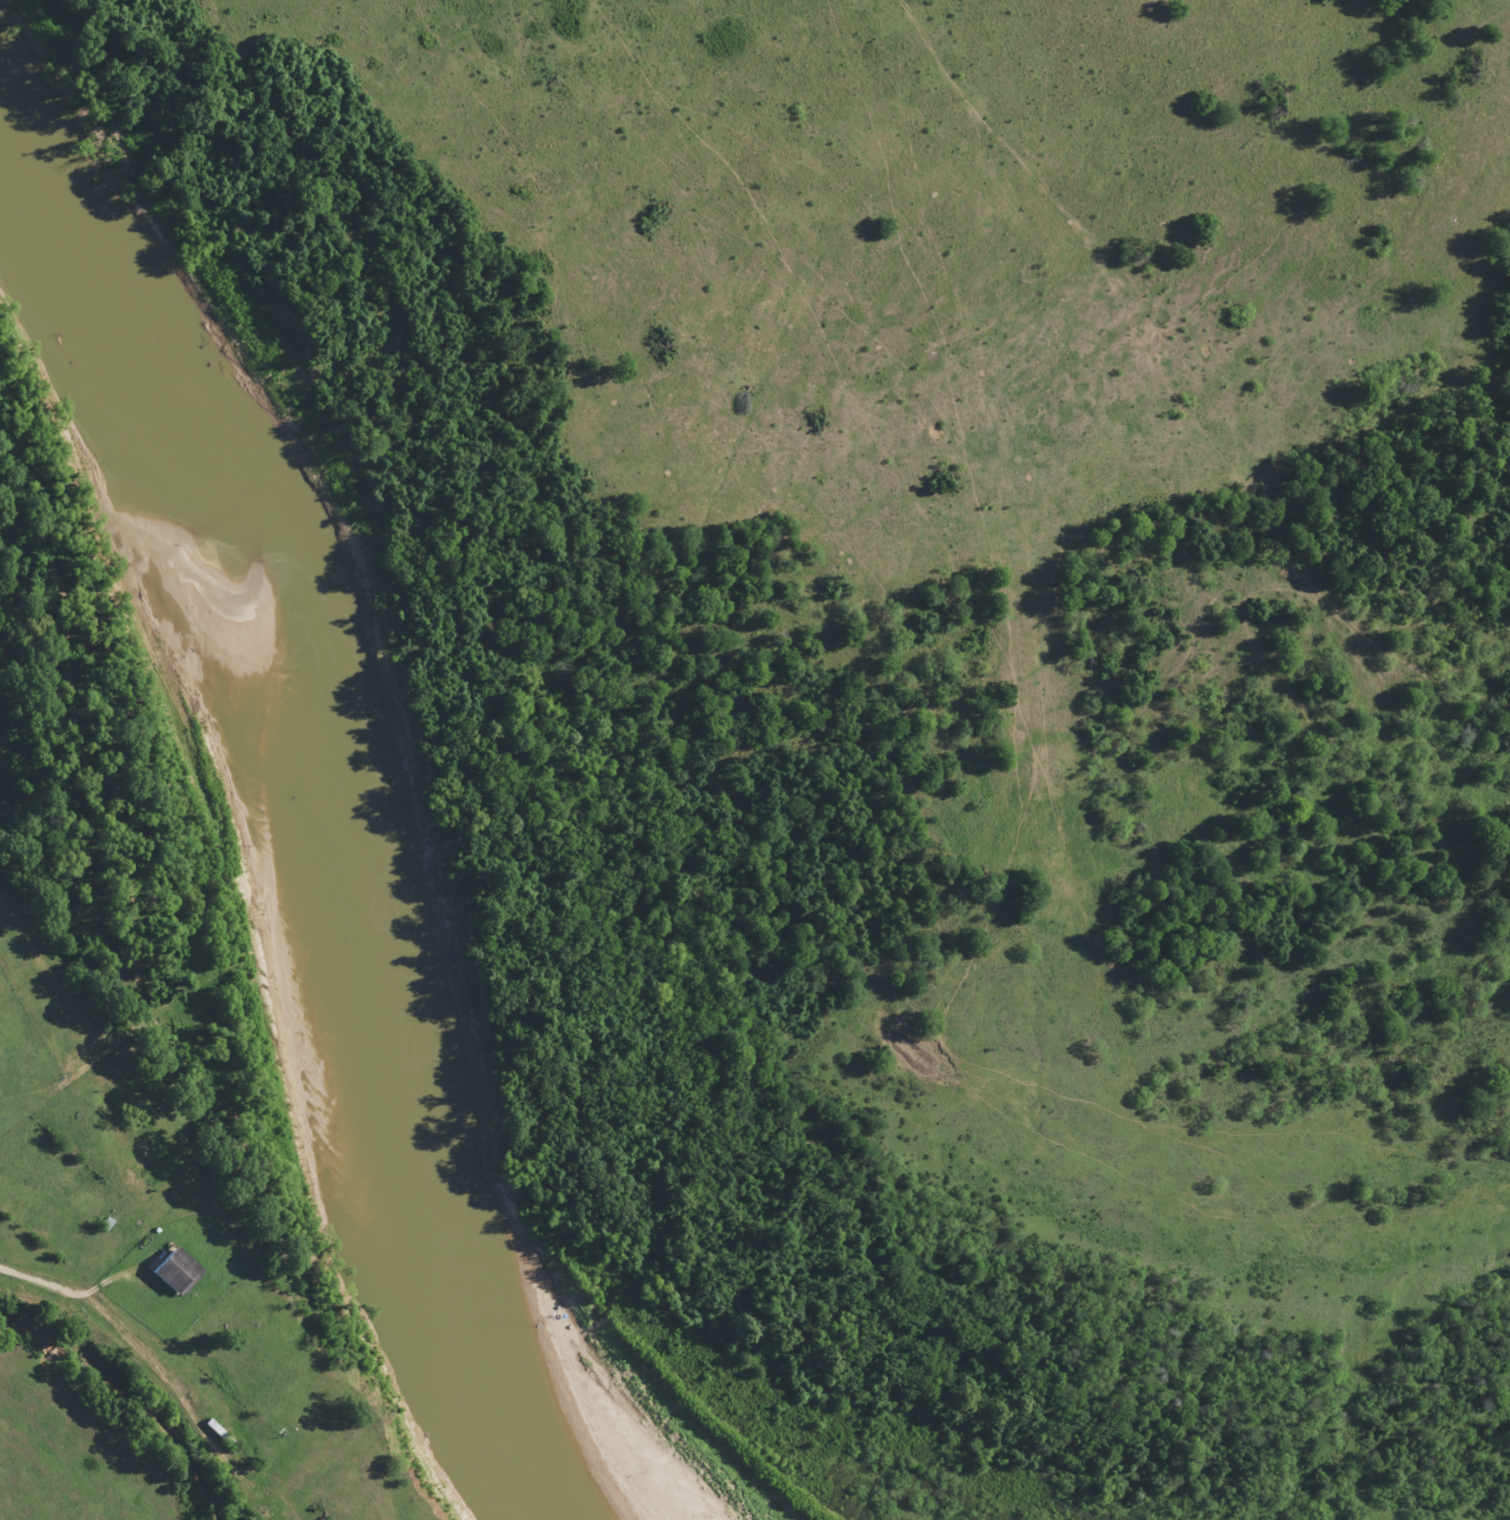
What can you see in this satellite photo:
river: (241, 645)
building: (173, 1270)
road: (155, 1362)
river: (496, 1362)

